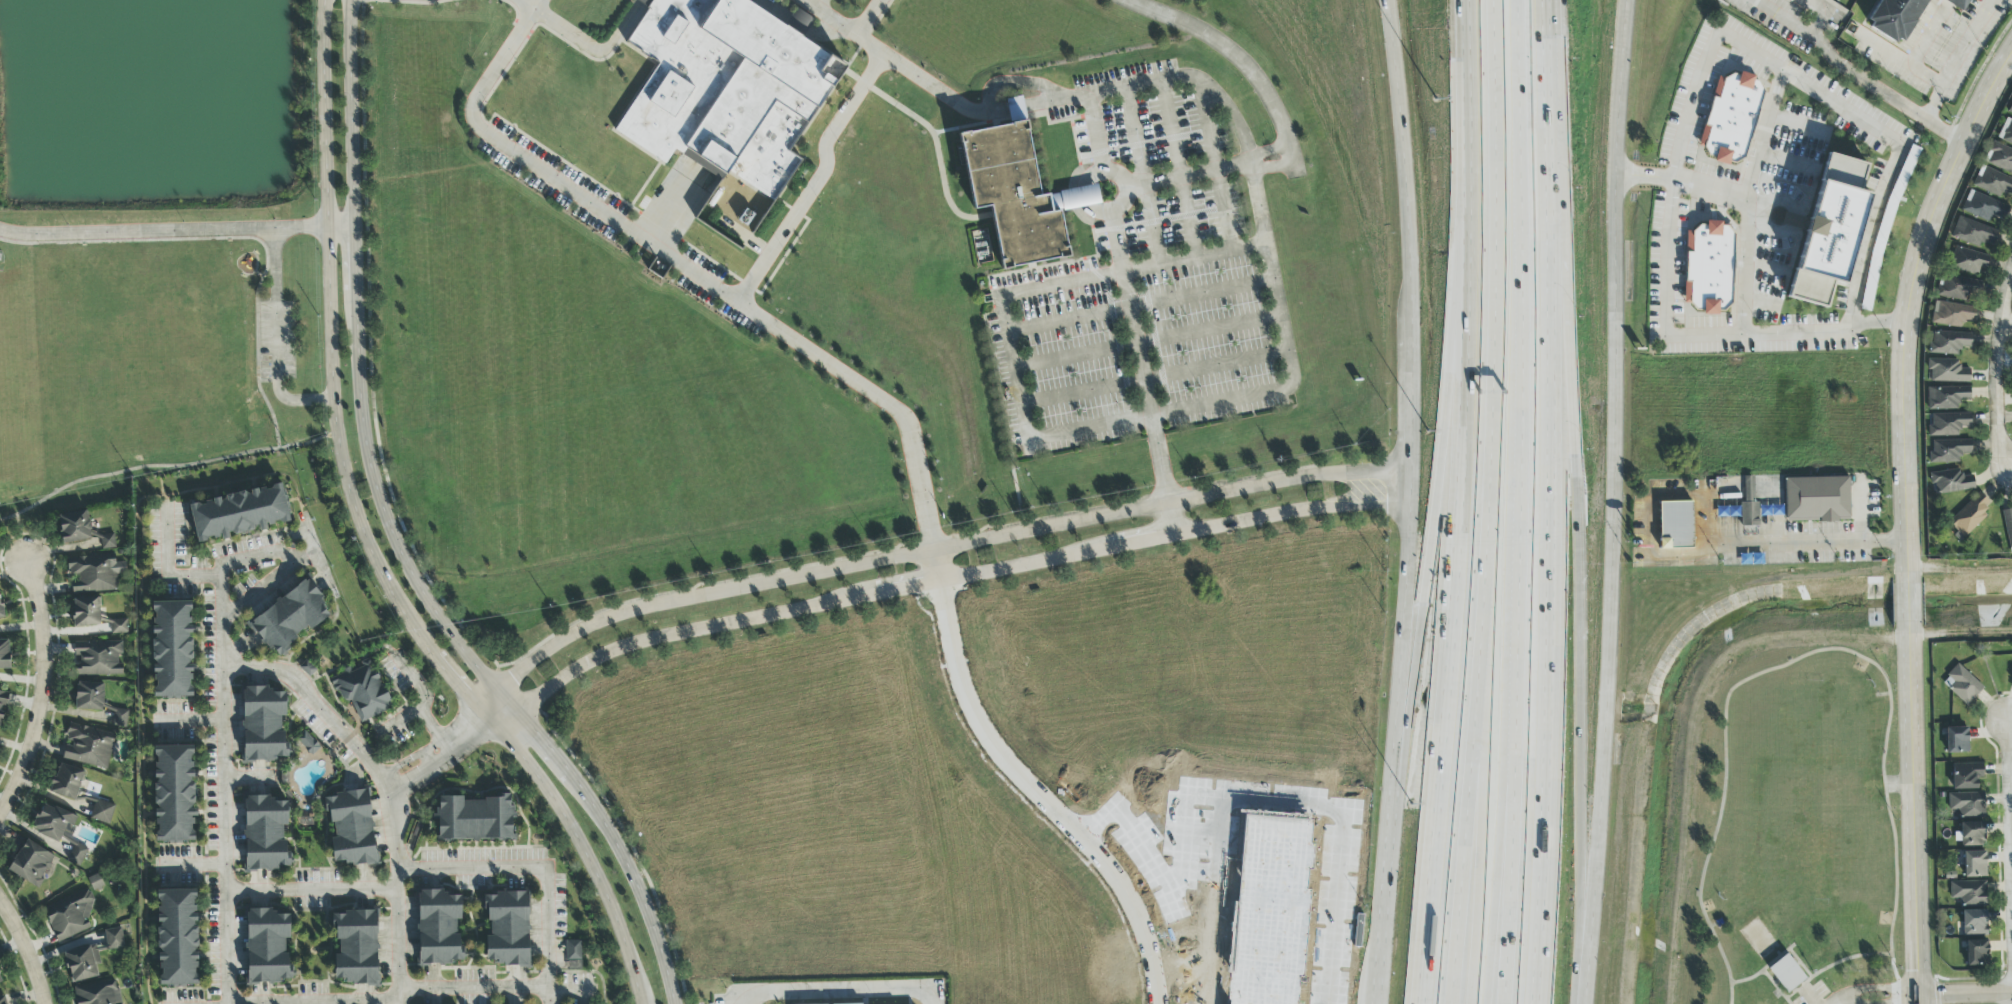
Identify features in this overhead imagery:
building: (1791, 0)
road: (648, 1)
road: (818, 1)
parking lot: (821, 4)
building: (1957, 4)
road: (835, 14)
road: (1822, 14)
road: (1781, 17)
building: (1895, 17)
road: (1931, 33)
road: (586, 45)
road: (1237, 57)
road: (1958, 59)
road: (1901, 60)
road: (906, 62)
road: (1183, 77)
building: (729, 89)
road: (1882, 93)
road: (987, 98)
road: (854, 102)
building: (2010, 109)
building: (1015, 111)
building: (1730, 117)
road: (1798, 125)
road: (1095, 132)
building: (2005, 132)
road: (1887, 139)
road: (1267, 151)
road: (1402, 157)
building: (1999, 157)
road: (1787, 163)
road: (1215, 165)
road: (1468, 165)
road: (1177, 169)
road: (1272, 169)
road: (1142, 175)
road: (1187, 175)
road: (1643, 177)
building: (1992, 182)
road: (1709, 190)
building: (1017, 196)
road: (1748, 200)
road: (1122, 204)
building: (1982, 207)
building: (1791, 220)
road: (1795, 221)
road: (341, 227)
road: (1901, 228)
road: (784, 230)
building: (1829, 230)
road: (163, 232)
building: (1971, 232)
road: (143, 240)
road: (1193, 257)
building: (1967, 260)
building: (1708, 267)
road: (688, 269)
road: (1766, 269)
road: (1273, 281)
road: (1058, 284)
building: (1956, 287)
road: (1763, 301)
road: (1663, 302)
road: (1138, 306)
building: (1952, 314)
road: (2006, 328)
parking lot: (274, 340)
road: (275, 340)
road: (1144, 342)
building: (1949, 342)
road: (256, 359)
road: (1139, 360)
road: (1010, 369)
building: (1946, 371)
road: (1996, 371)
road: (1152, 379)
road: (265, 380)
road: (1409, 393)
building: (1945, 397)
road: (1152, 416)
building: (1948, 424)
building: (1948, 450)
road: (165, 467)
road: (1613, 480)
building: (1950, 481)
road: (1408, 486)
building: (1816, 499)
road: (1487, 502)
road: (1517, 502)
road: (1557, 502)
building: (1748, 504)
building: (239, 514)
road: (1860, 515)
building: (1969, 515)
road: (1909, 516)
road: (1172, 521)
building: (1675, 525)
building: (74, 527)
building: (2007, 527)
road: (1432, 533)
road: (308, 536)
road: (368, 539)
building: (107, 541)
road: (397, 542)
road: (1818, 542)
road: (928, 551)
road: (274, 552)
road: (317, 559)
road: (167, 563)
road: (936, 566)
road: (1961, 572)
building: (94, 573)
road: (939, 581)
building: (1, 609)
building: (86, 612)
building: (290, 617)
road: (1406, 619)
building: (118, 626)
road: (1961, 630)
road: (1579, 647)
building: (172, 649)
building: (4, 654)
building: (98, 658)
road: (1445, 667)
building: (2011, 675)
road: (1742, 680)
building: (1961, 685)
building: (362, 691)
road: (45, 694)
building: (89, 696)
road: (425, 699)
building: (2, 706)
building: (120, 718)
road: (191, 720)
road: (401, 721)
building: (264, 725)
road: (469, 732)
road: (2011, 739)
building: (1956, 740)
building: (308, 743)
building: (88, 745)
road: (421, 772)
building: (1966, 775)
building: (66, 782)
road: (388, 784)
building: (174, 794)
road: (1040, 798)
road: (1496, 803)
road: (1479, 804)
building: (1965, 804)
building: (102, 812)
road: (224, 815)
building: (474, 819)
park: (1796, 820)
building: (53, 822)
building: (351, 828)
building: (265, 834)
building: (1971, 834)
building: (77, 855)
road: (541, 863)
building: (31, 864)
building: (1974, 864)
road: (1386, 870)
building: (96, 885)
road: (311, 889)
building: (1968, 892)
building: (70, 917)
road: (1896, 922)
building: (1973, 922)
building: (439, 928)
building: (507, 929)
building: (177, 938)
building: (268, 947)
building: (356, 948)
road: (26, 949)
building: (1975, 953)
building: (573, 955)
building: (91, 957)
road: (1806, 959)
road: (1837, 960)
road: (1771, 964)
building: (1786, 973)
building: (1, 980)
road: (1585, 982)
road: (842, 984)
road: (1783, 985)
road: (495, 986)
road: (1879, 989)
building: (98, 993)
parking lot: (1821, 993)
road: (1808, 994)
road: (1966, 996)
road: (1915, 998)
road: (314, 1000)
road: (1840, 1000)
road: (1852, 1001)
road: (1901, 1001)
building: (4, 1003)

